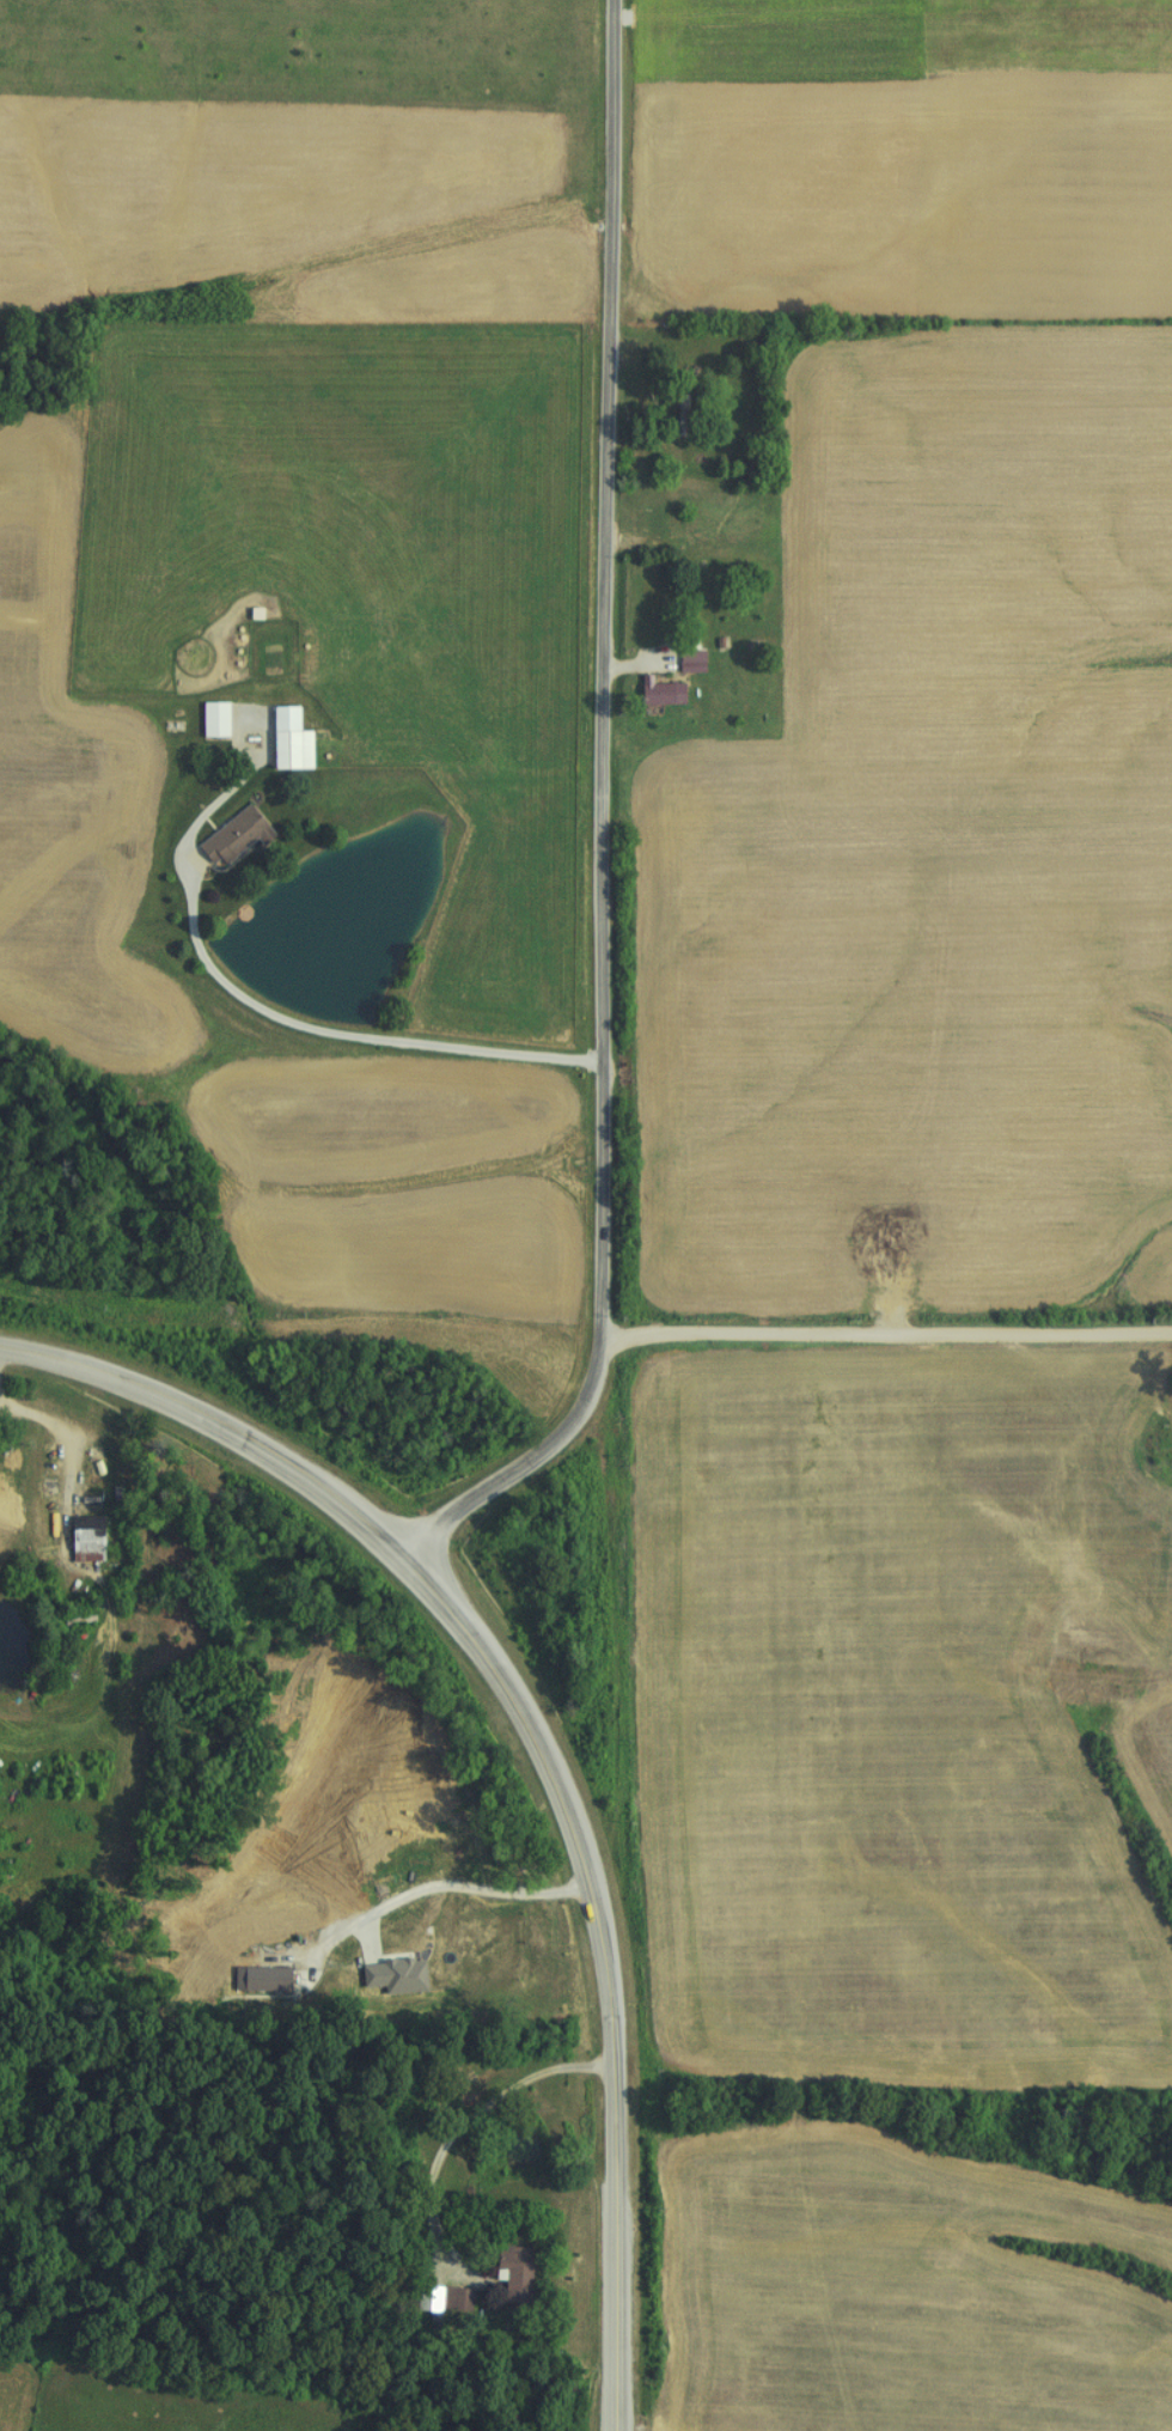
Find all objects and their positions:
building: (661, 538)
building: (685, 662)
road: (600, 669)
building: (654, 693)
building: (208, 720)
building: (282, 741)
building: (230, 839)
road: (349, 1032)
road: (887, 1339)
road: (60, 1431)
road: (525, 1466)
road: (370, 1531)
building: (79, 1540)
road: (458, 1894)
road: (458, 2131)
road: (610, 2156)
building: (507, 2274)

